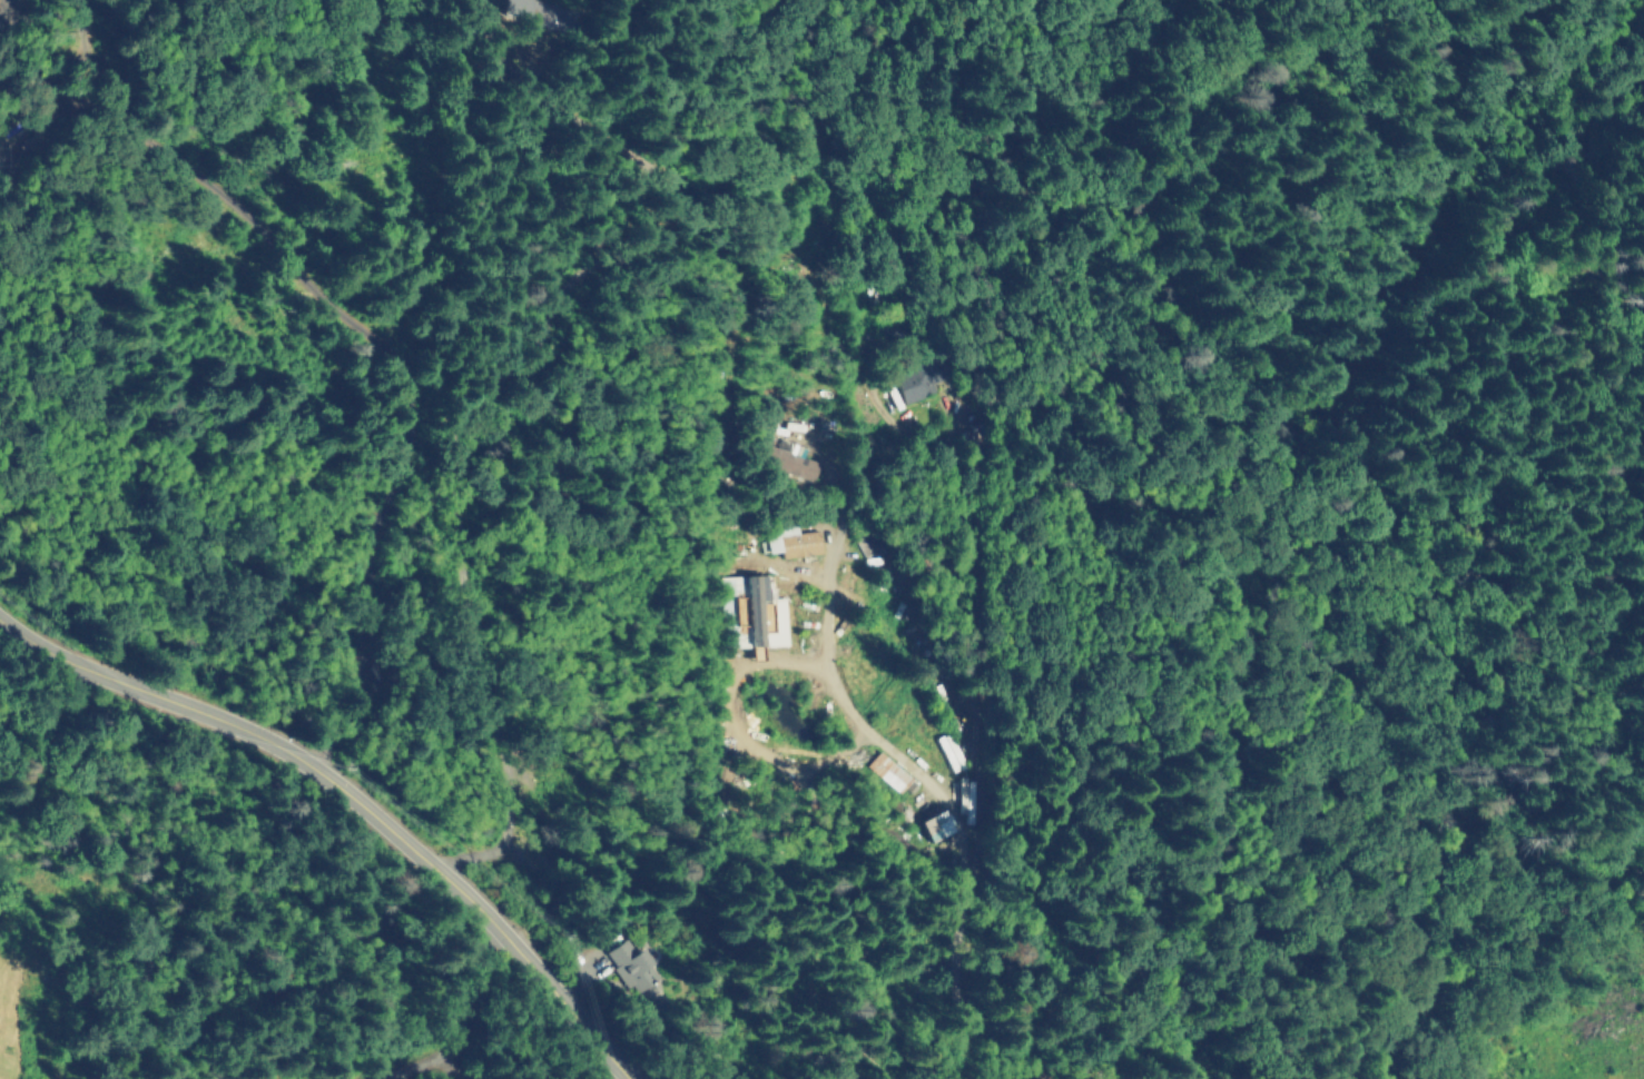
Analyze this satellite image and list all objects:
building: (531, 7)
building: (918, 380)
road: (404, 405)
building: (791, 459)
building: (794, 543)
road: (975, 650)
road: (827, 673)
building: (951, 751)
building: (888, 771)
road: (356, 791)
building: (943, 824)
building: (631, 963)
road: (476, 1029)

